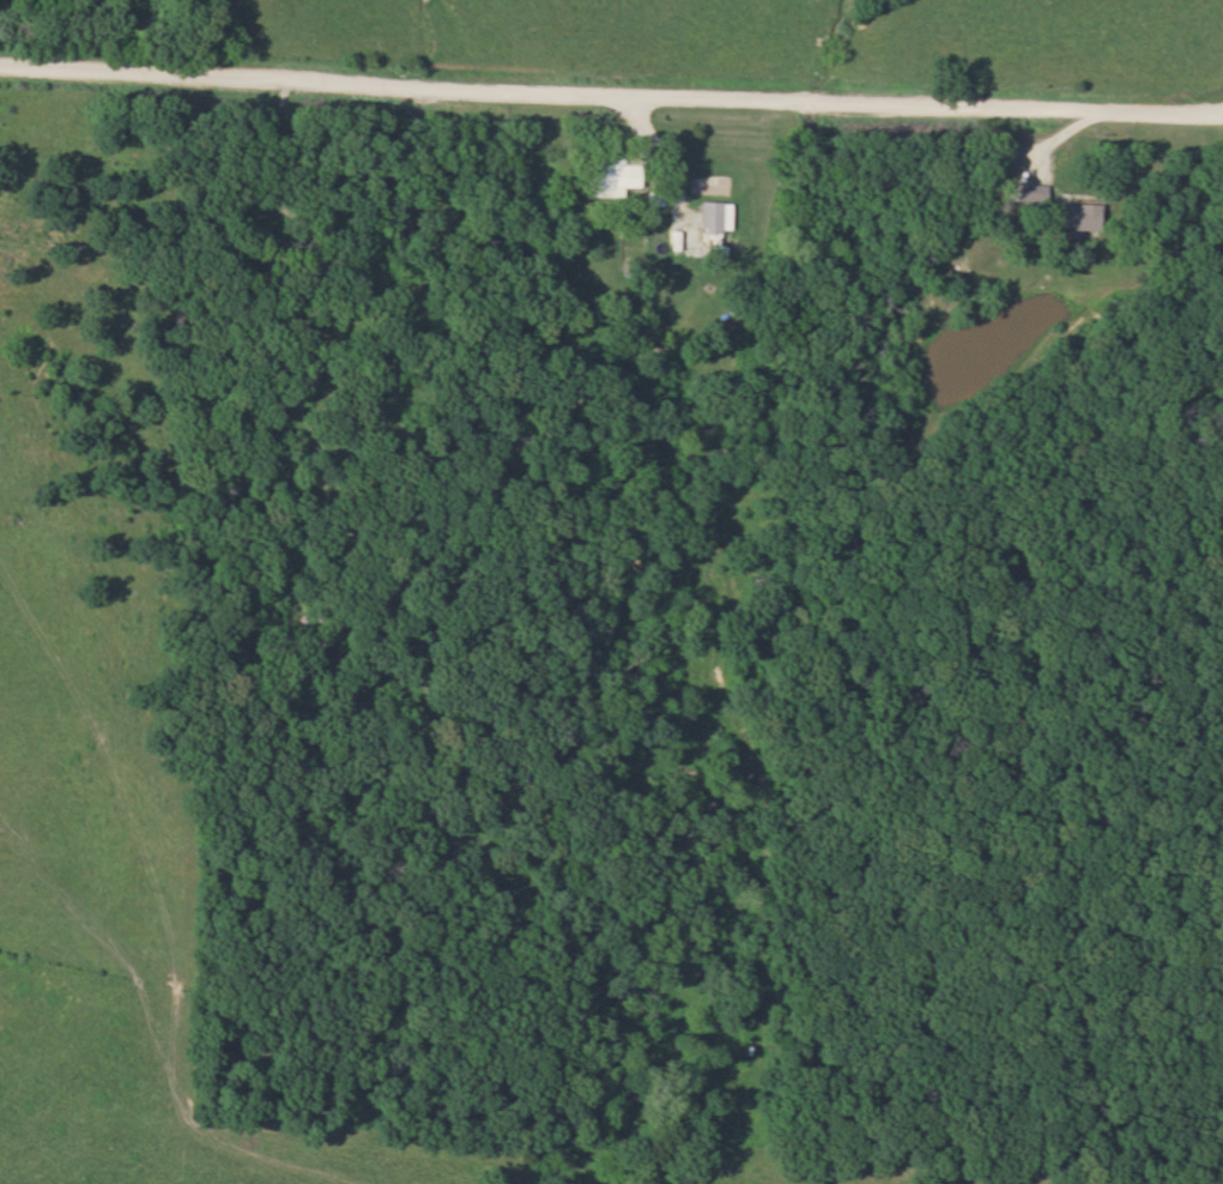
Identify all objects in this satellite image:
road: (611, 87)
building: (610, 177)
building: (1027, 194)
building: (709, 216)
building: (1072, 216)

